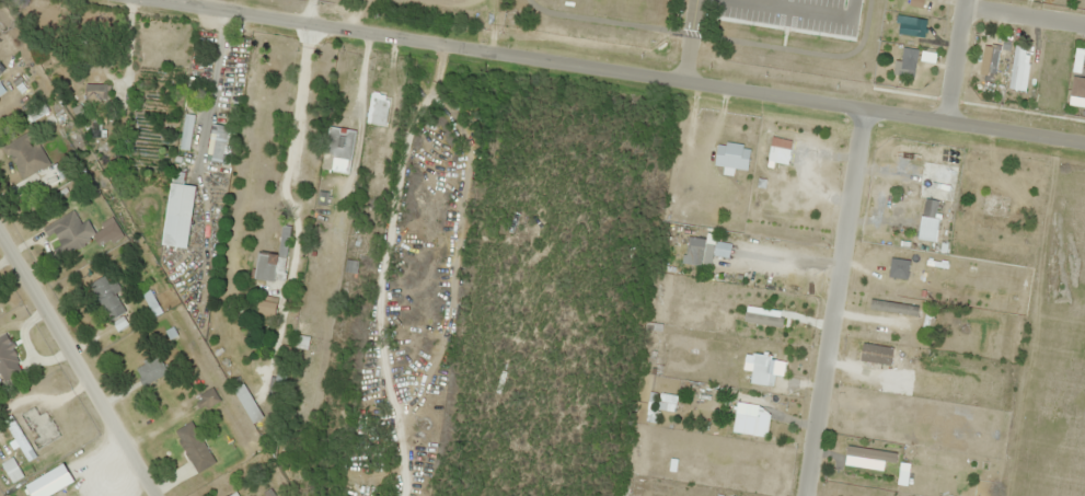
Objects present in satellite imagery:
road: (1020, 16)
road: (686, 41)
road: (955, 64)
road: (607, 70)
building: (0, 71)
building: (95, 91)
building: (377, 108)
building: (336, 145)
building: (24, 154)
building: (180, 199)
building: (66, 228)
building: (105, 231)
building: (106, 298)
road: (834, 302)
building: (265, 307)
building: (8, 359)
road: (73, 369)
building: (149, 370)
building: (278, 382)
building: (205, 399)
building: (246, 403)
building: (39, 426)
building: (18, 437)
building: (193, 447)
building: (10, 470)
building: (232, 494)

